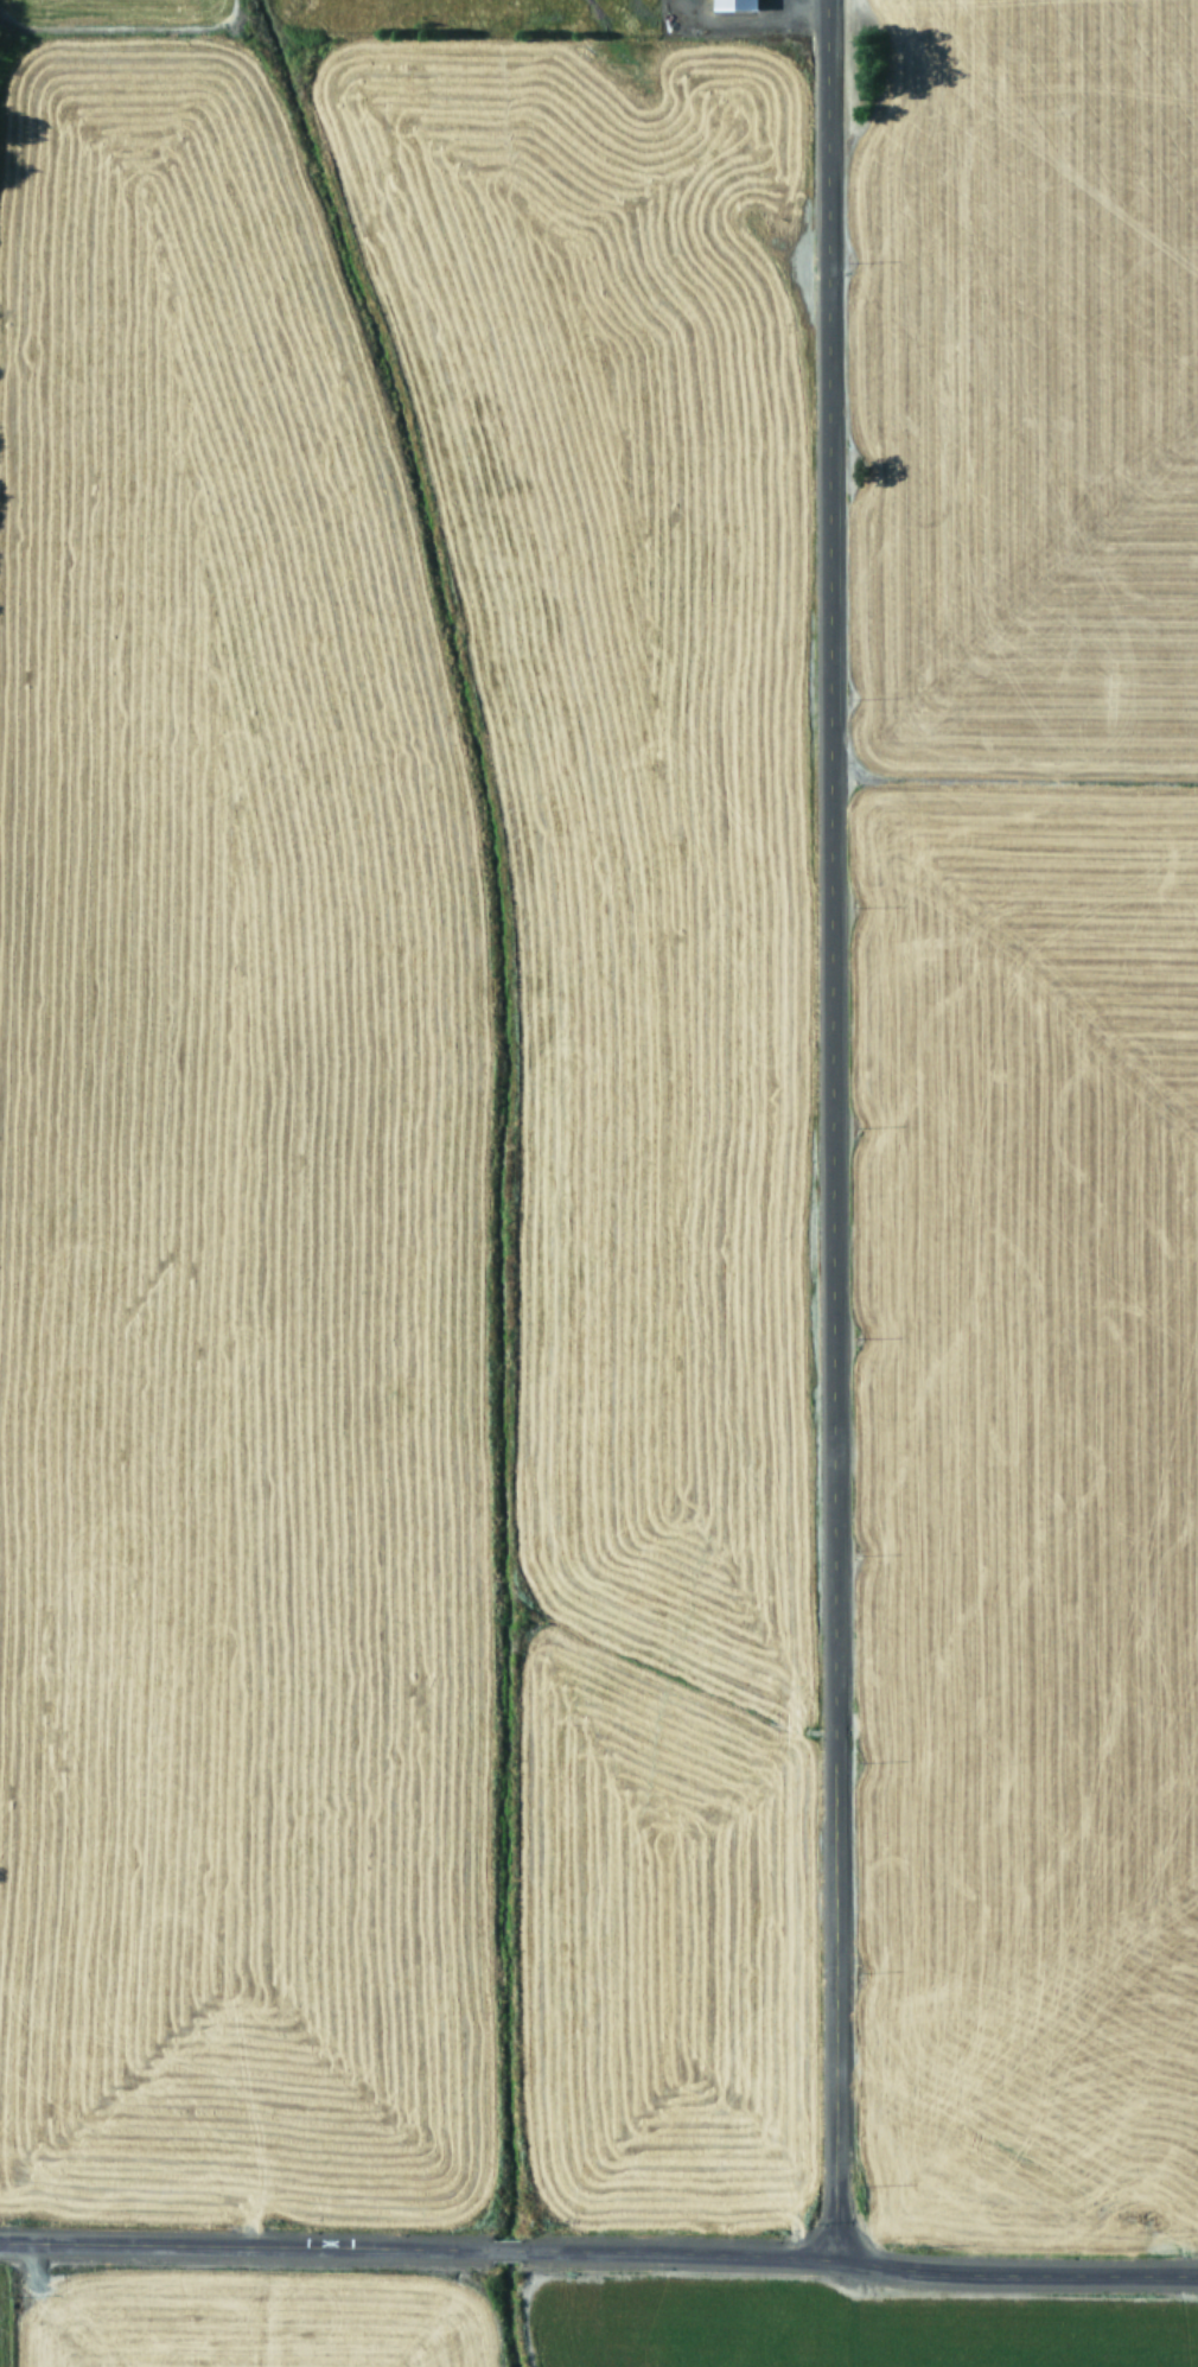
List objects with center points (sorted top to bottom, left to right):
building: (738, 5)
crop: (599, 1108)
road: (824, 1130)
road: (599, 2252)
crop: (581, 2324)

